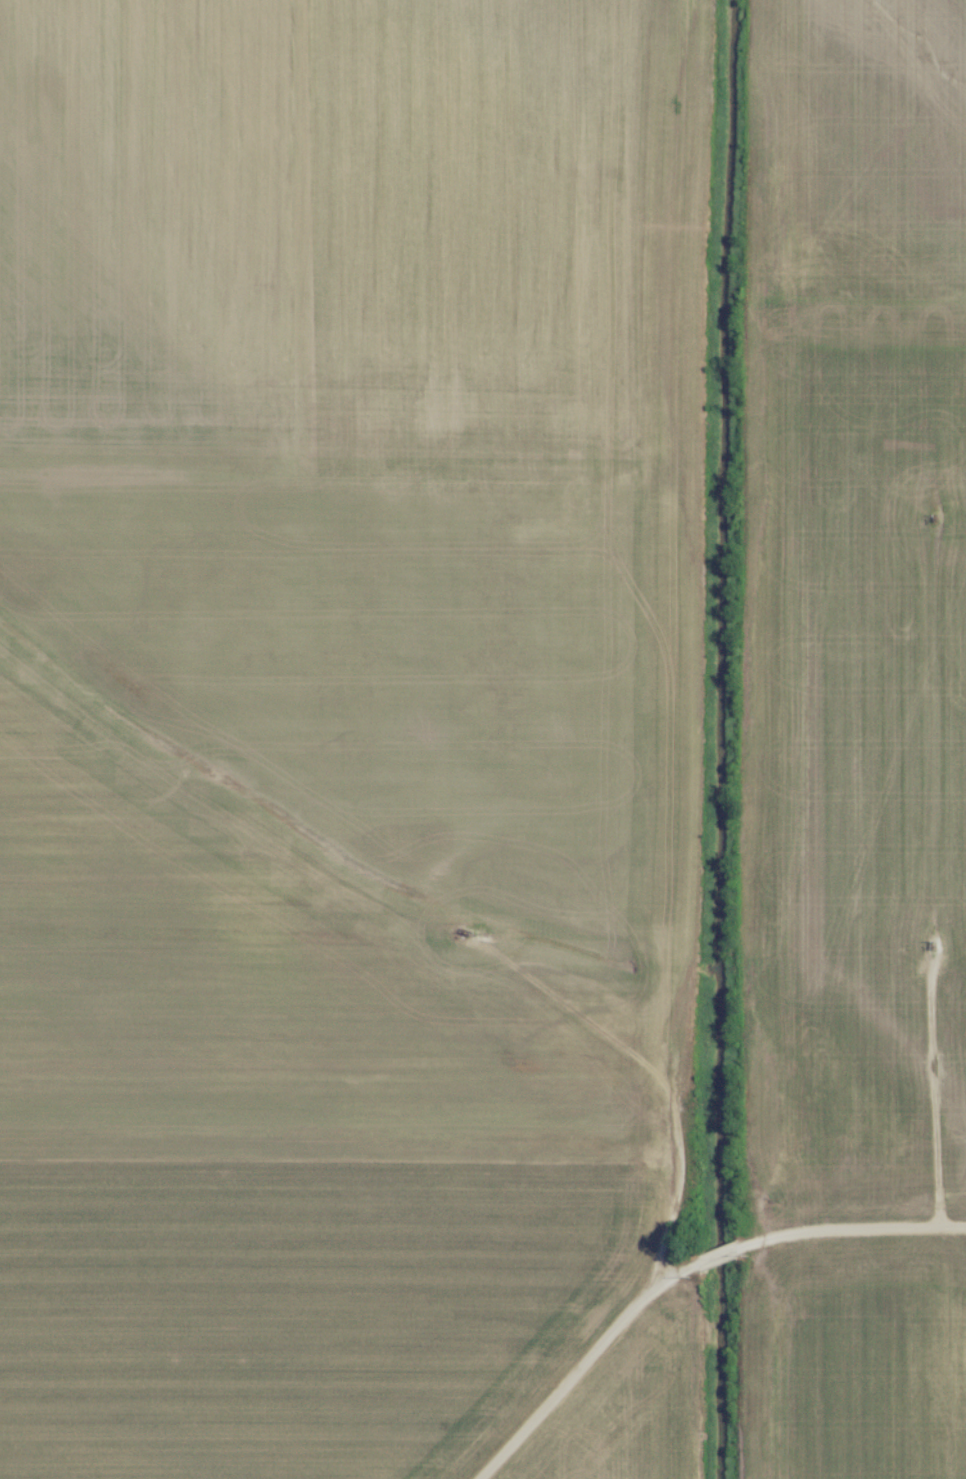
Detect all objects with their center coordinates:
road: (854, 1216)
road: (603, 1343)

